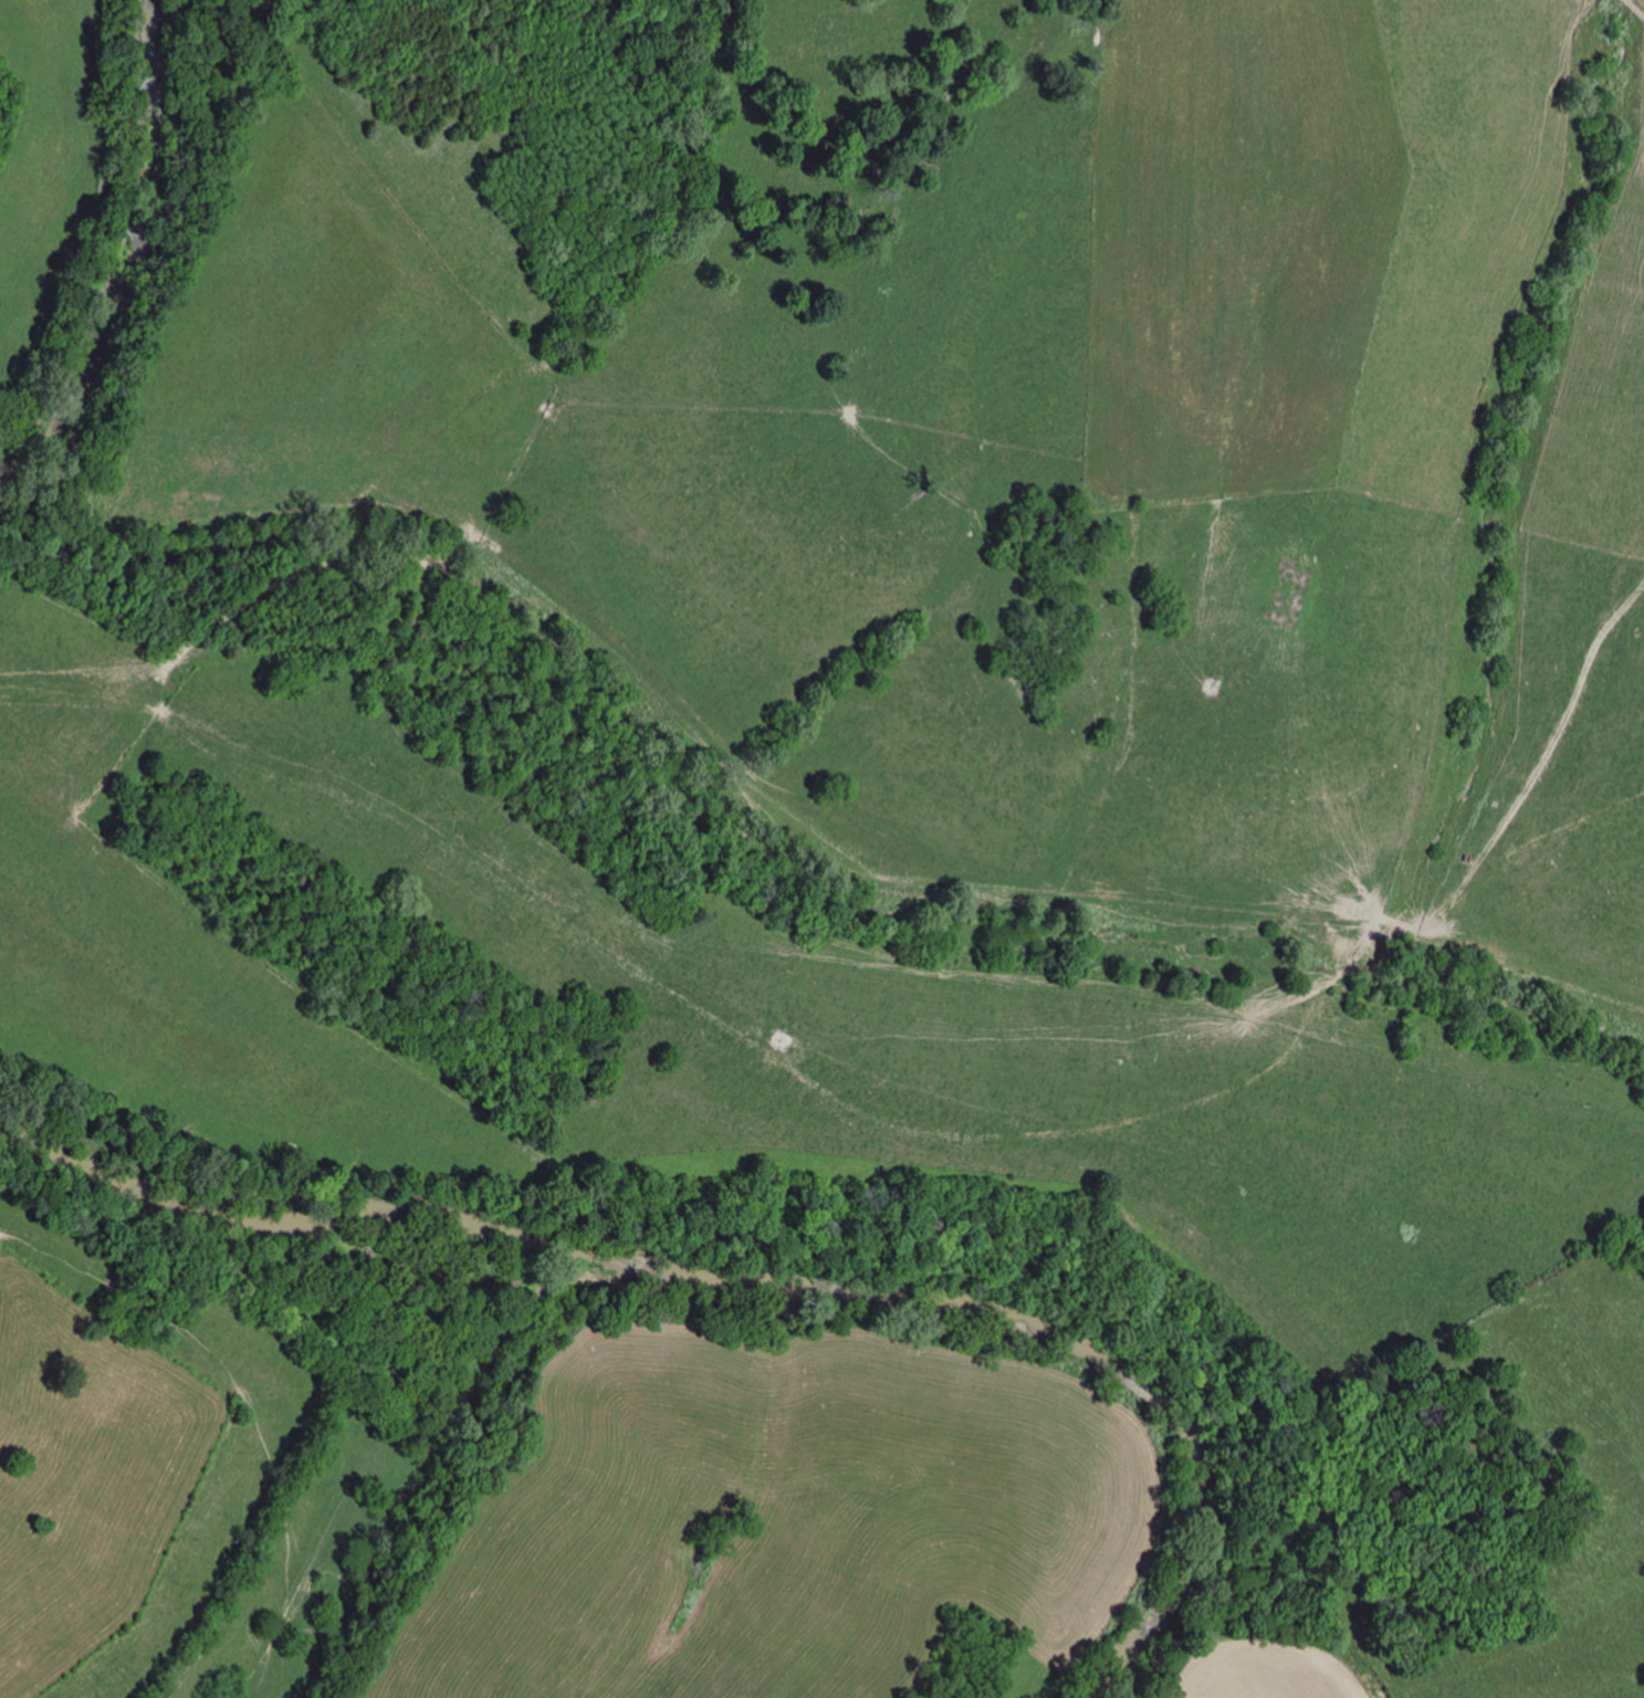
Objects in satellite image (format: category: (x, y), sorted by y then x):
river: (115, 240)
river: (762, 1278)

